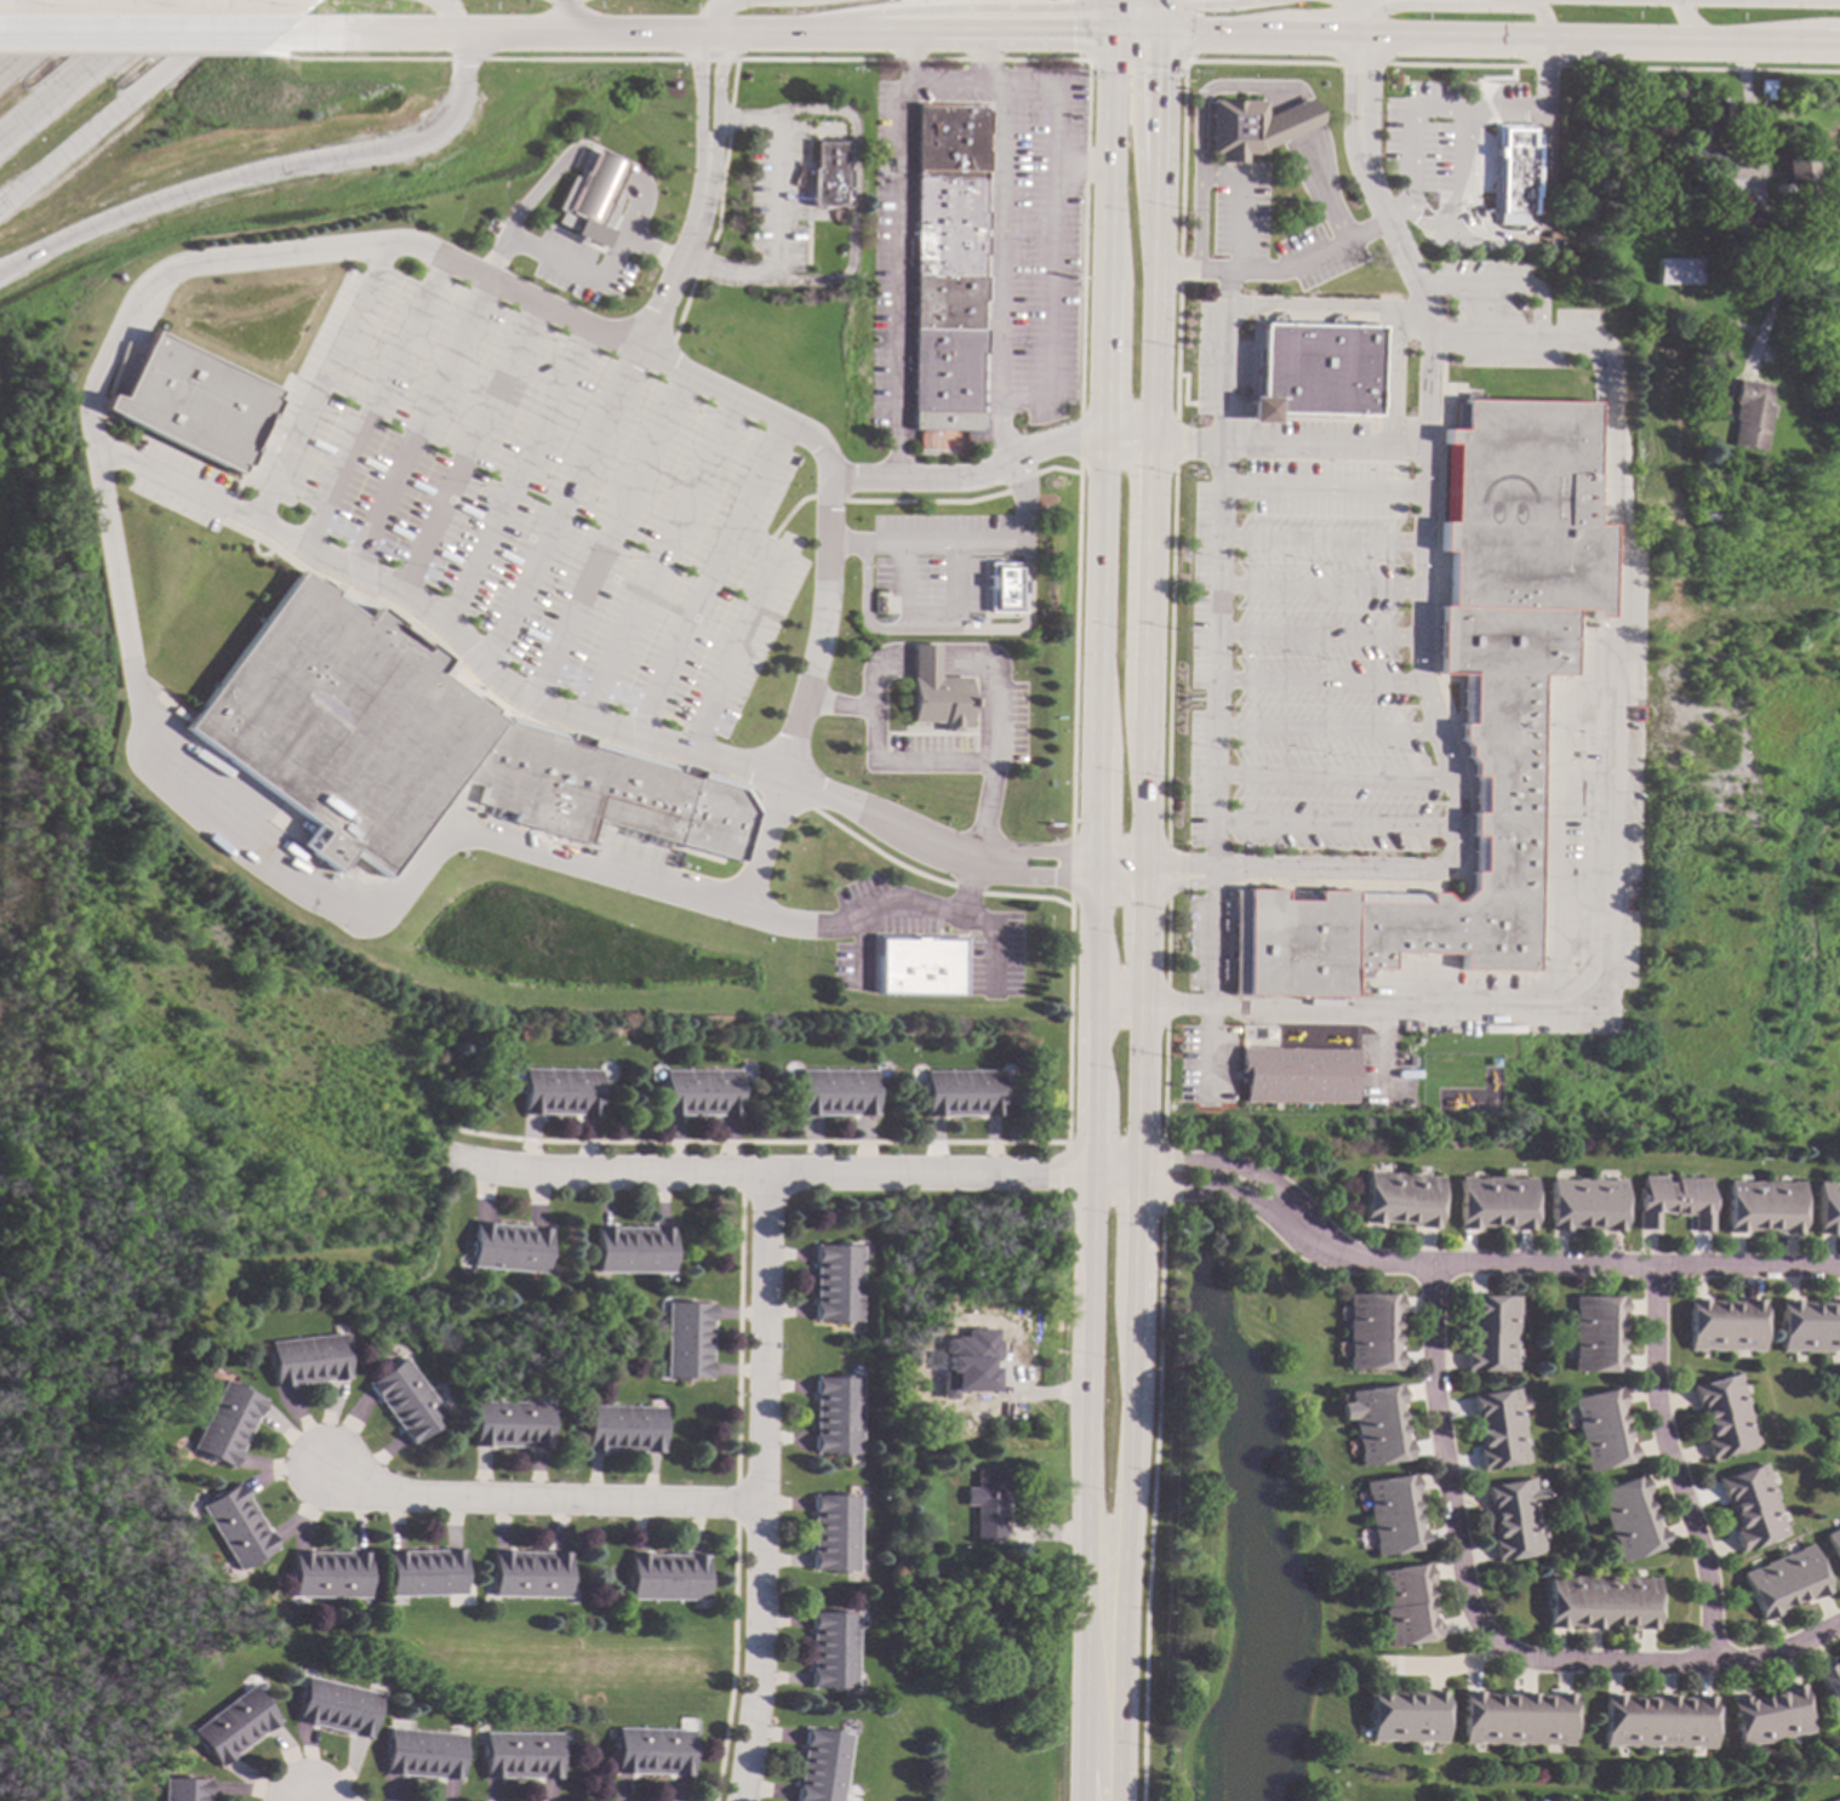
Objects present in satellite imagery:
road: (8, 7)
road: (562, 19)
road: (1110, 21)
road: (1537, 22)
road: (1697, 24)
road: (1079, 30)
road: (1192, 32)
road: (135, 36)
road: (48, 39)
road: (1055, 41)
traffic signals: (1070, 42)
road: (126, 52)
road: (462, 59)
road: (349, 61)
road: (784, 61)
road: (1185, 64)
road: (1135, 68)
road: (88, 73)
road: (945, 76)
traffic signals: (1161, 78)
road: (1538, 80)
road: (1235, 86)
road: (1366, 87)
building: (1761, 88)
road: (1342, 90)
road: (698, 98)
road: (130, 104)
road: (1427, 110)
building: (1710, 120)
road: (714, 121)
building: (1252, 126)
parking lot: (1444, 145)
building: (1702, 159)
building: (1673, 162)
road: (1080, 164)
road: (279, 165)
road: (1462, 165)
road: (598, 166)
building: (1513, 173)
building: (828, 175)
building: (1795, 179)
building: (1707, 190)
building: (1765, 190)
building: (587, 198)
road: (635, 198)
road: (852, 202)
road: (781, 204)
road: (520, 206)
road: (1396, 212)
building: (1781, 215)
building: (1737, 221)
road: (1051, 225)
building: (1550, 235)
building: (1725, 238)
road: (1526, 239)
parking lot: (987, 244)
road: (996, 250)
road: (648, 251)
road: (903, 257)
building: (948, 258)
road: (1275, 267)
road: (572, 270)
building: (1676, 270)
building: (1749, 274)
road: (1499, 287)
building: (1667, 338)
road: (1225, 354)
building: (1313, 371)
road: (319, 384)
road: (372, 400)
building: (190, 401)
building: (1750, 414)
road: (419, 422)
building: (944, 428)
road: (1155, 434)
road: (1188, 440)
road: (1322, 444)
road: (469, 447)
road: (1102, 453)
road: (995, 468)
road: (516, 474)
road: (1322, 487)
parking lot: (531, 501)
road: (561, 505)
road: (607, 536)
road: (1321, 538)
road: (965, 547)
road: (661, 556)
road: (712, 577)
building: (1004, 587)
road: (1320, 587)
road: (925, 617)
road: (749, 630)
road: (1215, 630)
road: (1319, 633)
parking lot: (1308, 646)
road: (1316, 681)
building: (936, 691)
building: (1467, 707)
road: (993, 713)
road: (567, 714)
road: (1553, 715)
road: (1434, 719)
road: (1326, 728)
building: (423, 744)
road: (922, 760)
road: (1333, 776)
road: (1333, 823)
road: (229, 829)
road: (1210, 846)
road: (1610, 848)
road: (1122, 868)
road: (1179, 869)
road: (879, 907)
road: (993, 945)
building: (919, 966)
building: (1297, 1075)
building: (560, 1091)
building: (699, 1092)
building: (835, 1093)
building: (962, 1093)
road: (772, 1179)
traffic signals: (1091, 1183)
traffic signals: (1143, 1183)
building: (1399, 1199)
building: (1674, 1200)
building: (1492, 1201)
building: (1583, 1203)
building: (1828, 1206)
building: (1764, 1207)
building: (508, 1247)
building: (634, 1250)
road: (1452, 1268)
building: (836, 1282)
building: (1725, 1325)
building: (1810, 1326)
building: (1370, 1332)
building: (981, 1333)
road: (1087, 1333)
building: (1490, 1333)
road: (1136, 1334)
building: (1594, 1334)
building: (688, 1339)
building: (909, 1347)
building: (308, 1360)
building: (1018, 1373)
building: (406, 1400)
building: (836, 1414)
building: (1724, 1416)
building: (227, 1423)
building: (512, 1423)
building: (1378, 1425)
building: (1497, 1428)
building: (624, 1429)
building: (1599, 1430)
building: (1834, 1435)
road: (1442, 1463)
road: (1672, 1465)
road: (766, 1491)
building: (987, 1502)
road: (539, 1503)
building: (1752, 1504)
building: (1392, 1516)
building: (1513, 1519)
building: (1628, 1519)
building: (236, 1526)
building: (834, 1532)
building: (1834, 1540)
building: (425, 1572)
building: (530, 1573)
building: (330, 1574)
building: (667, 1577)
building: (1784, 1582)
building: (1600, 1602)
building: (1406, 1605)
building: (832, 1650)
road: (1608, 1662)
building: (1830, 1682)
building: (336, 1706)
building: (1405, 1716)
building: (1770, 1716)
building: (1515, 1717)
building: (1658, 1720)
building: (233, 1725)
building: (651, 1751)
building: (422, 1754)
building: (520, 1755)
building: (821, 1766)
building: (184, 1789)
building: (1836, 1799)

